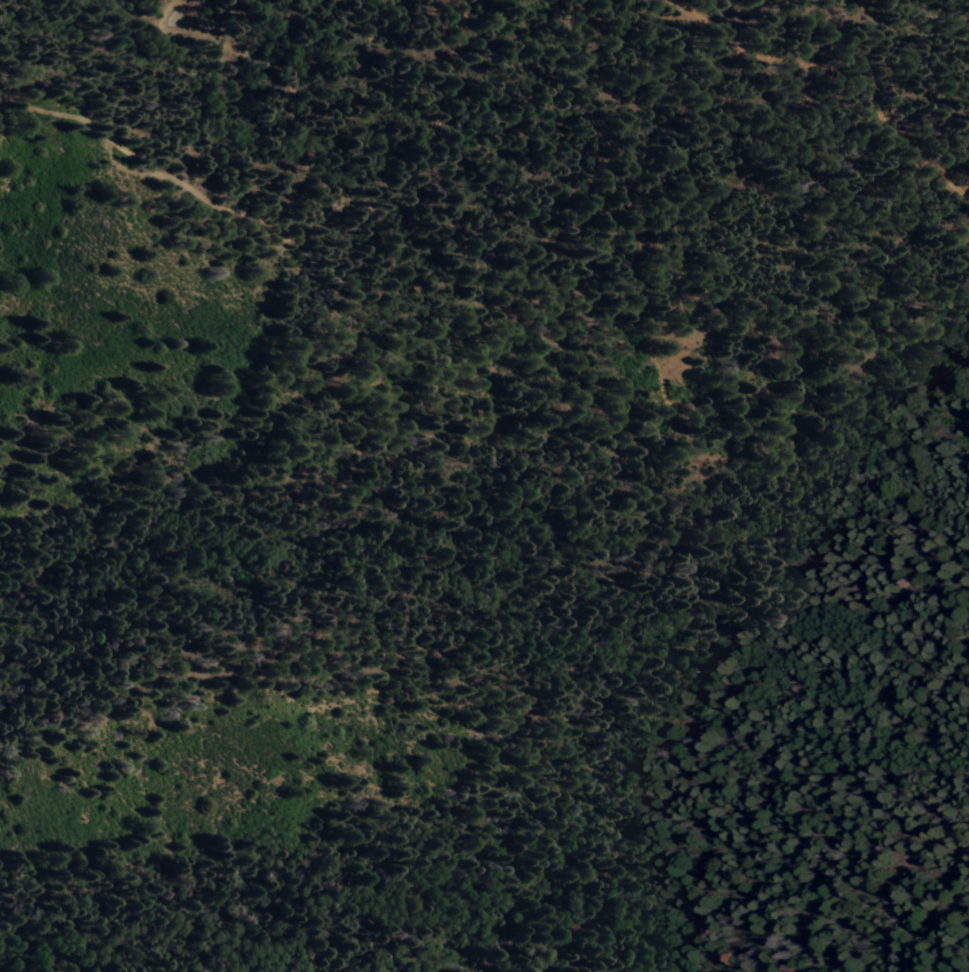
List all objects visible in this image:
road: (831, 77)
road: (691, 523)

